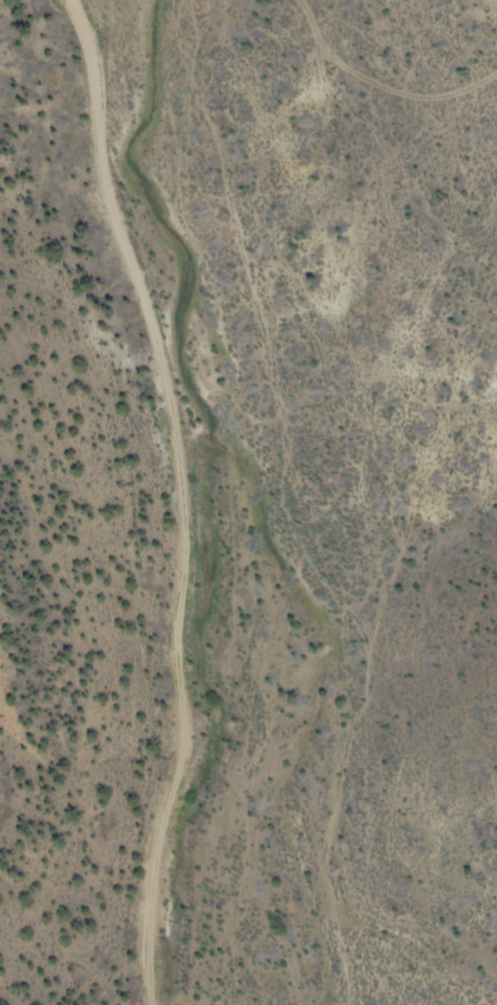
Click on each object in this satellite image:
road: (189, 492)

